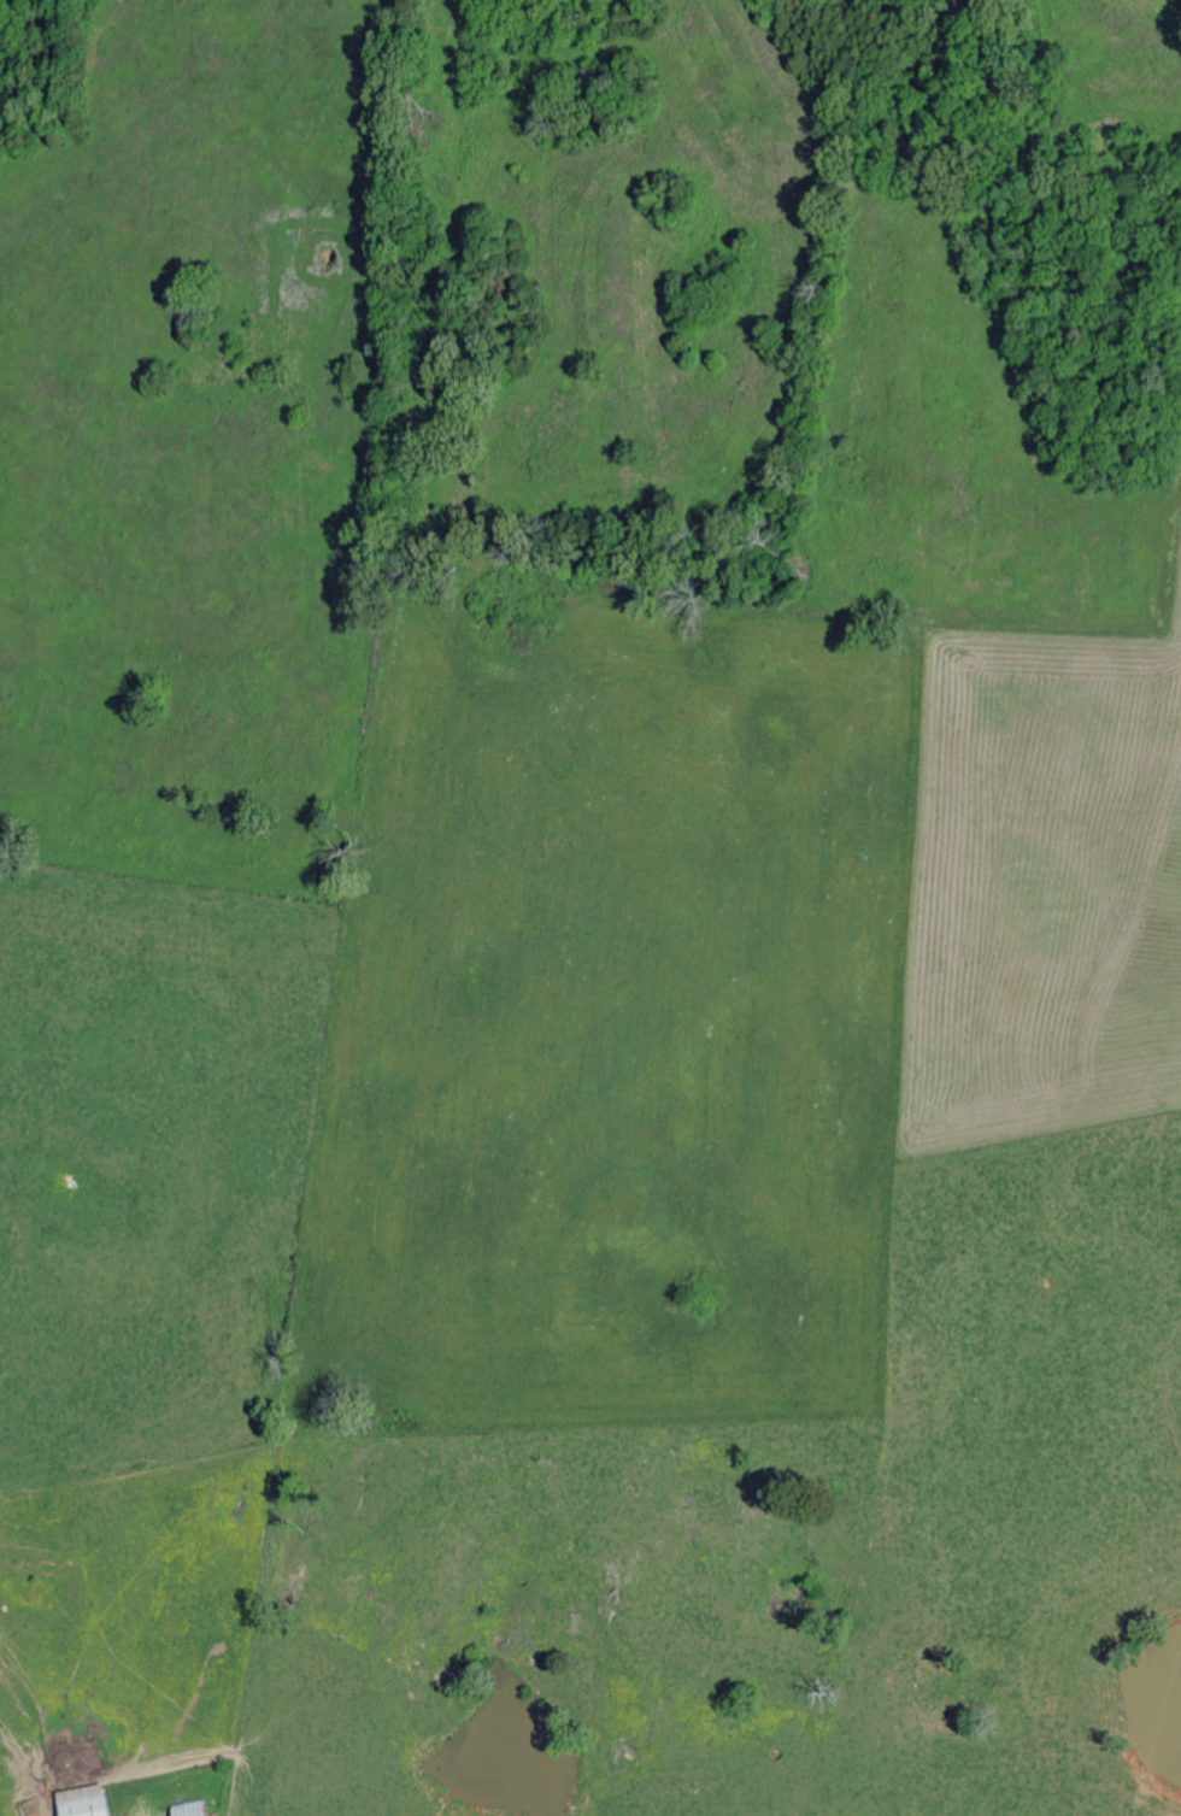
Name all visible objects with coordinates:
building: (83, 1800)

